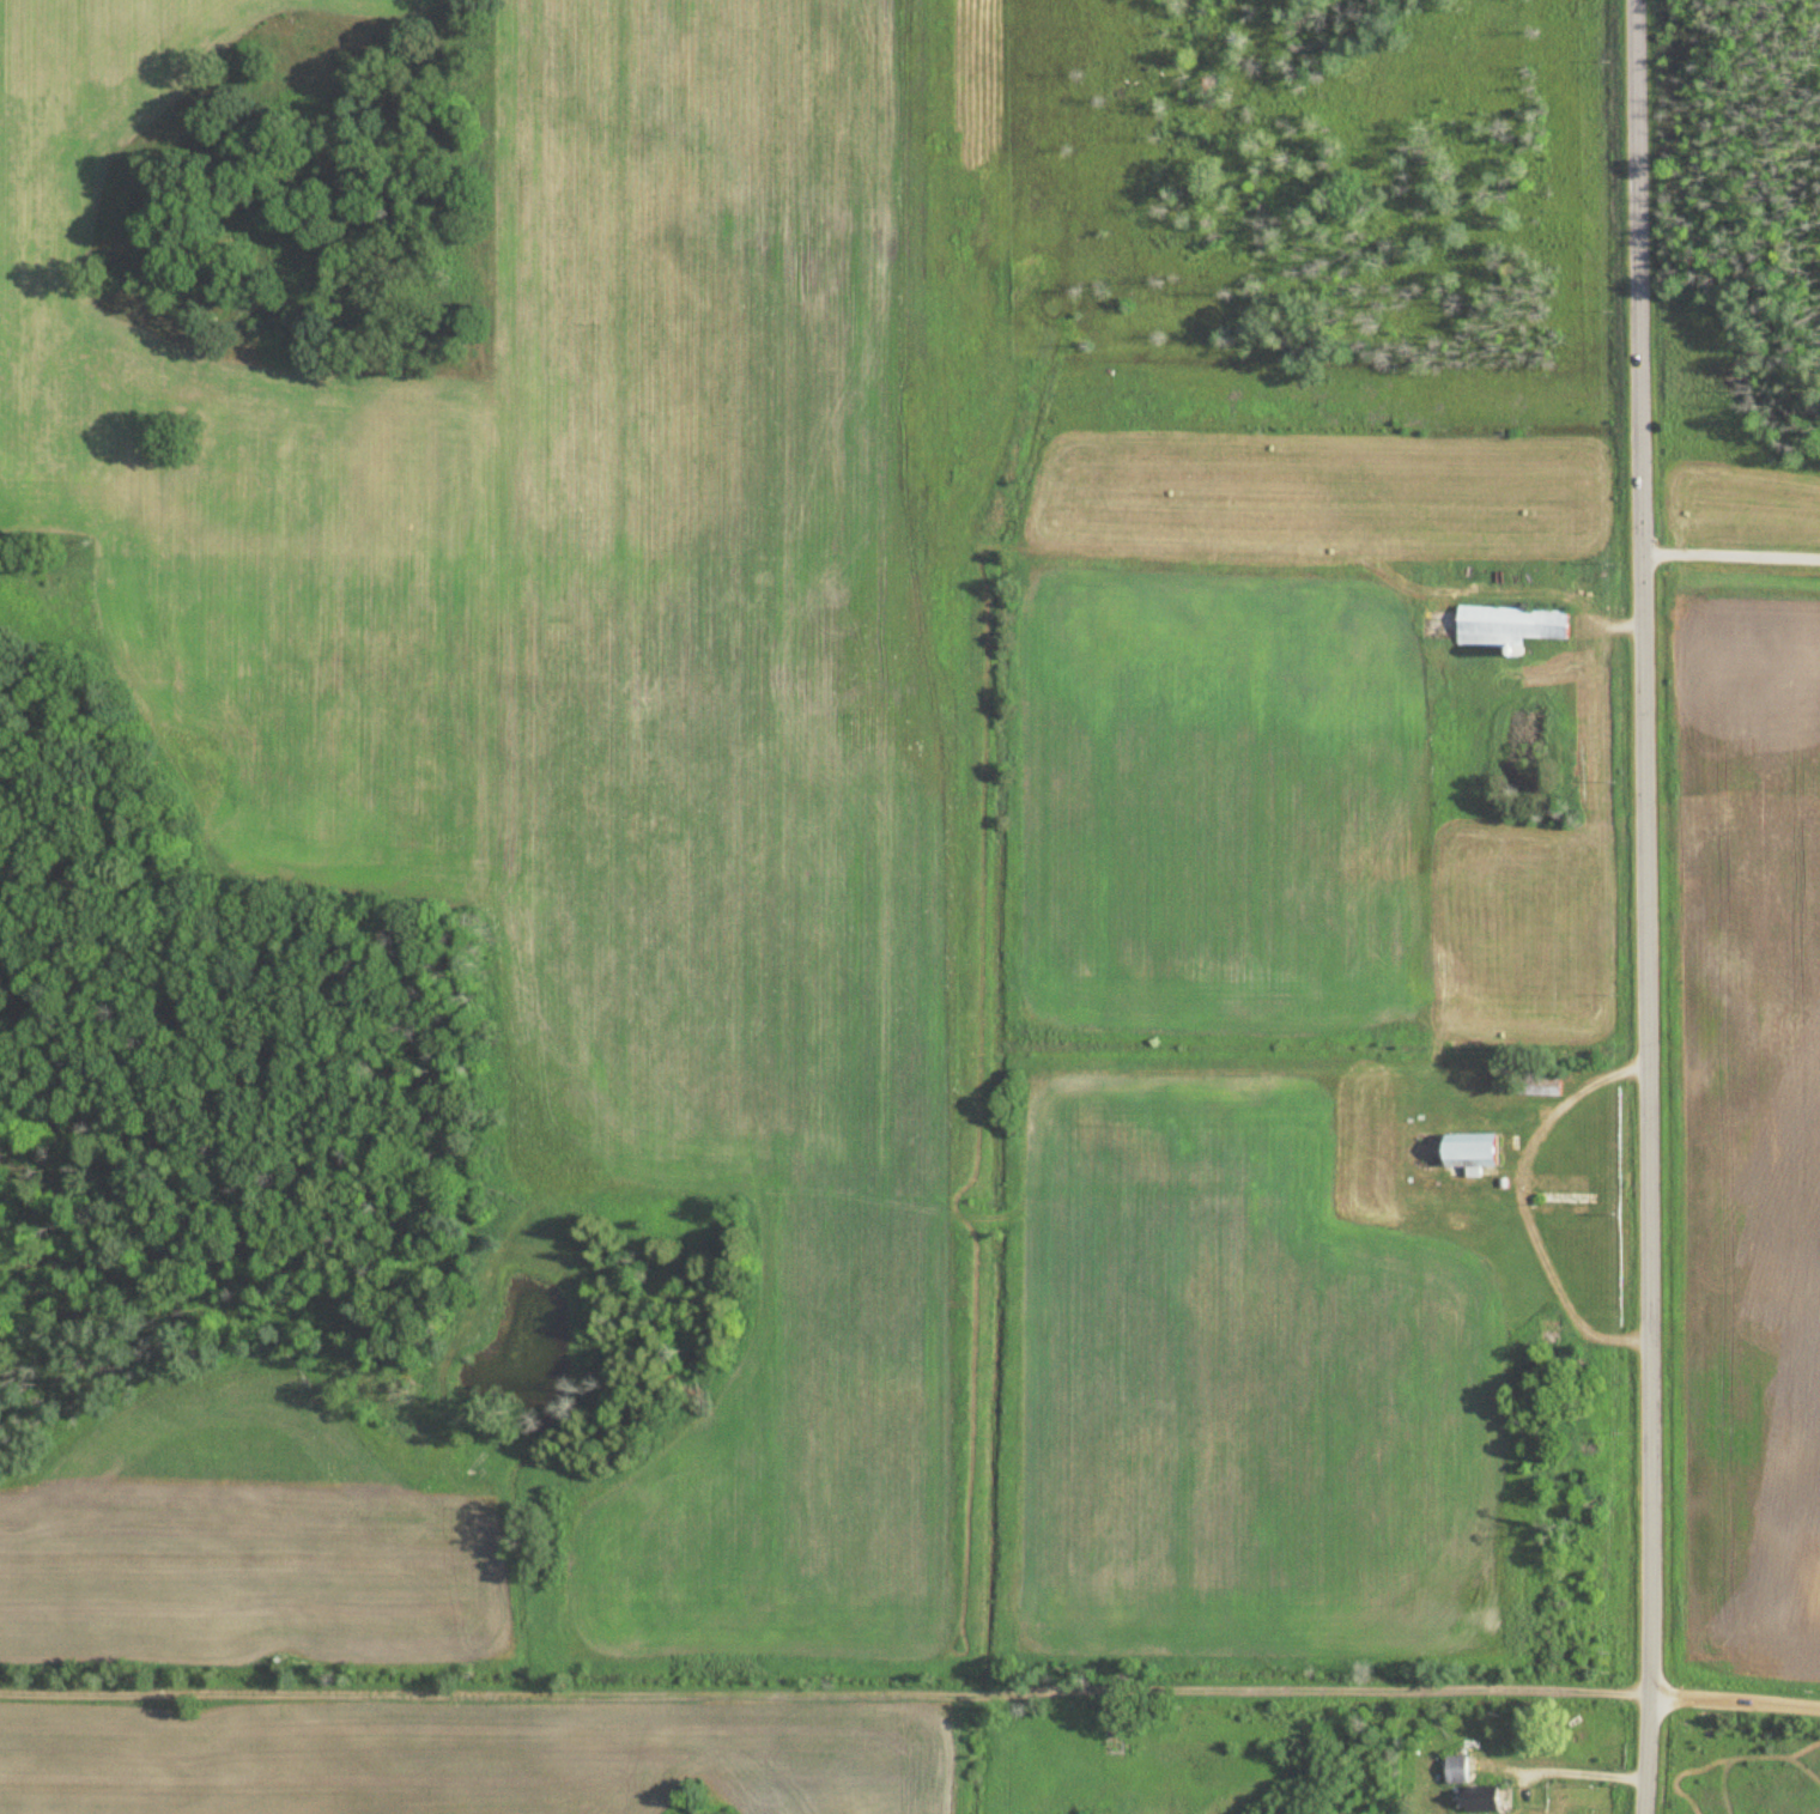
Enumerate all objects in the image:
road: (1730, 553)
building: (1505, 625)
road: (1643, 906)
building: (1531, 1086)
building: (1468, 1151)
road: (824, 1693)
road: (1734, 1701)
building: (1468, 1788)

